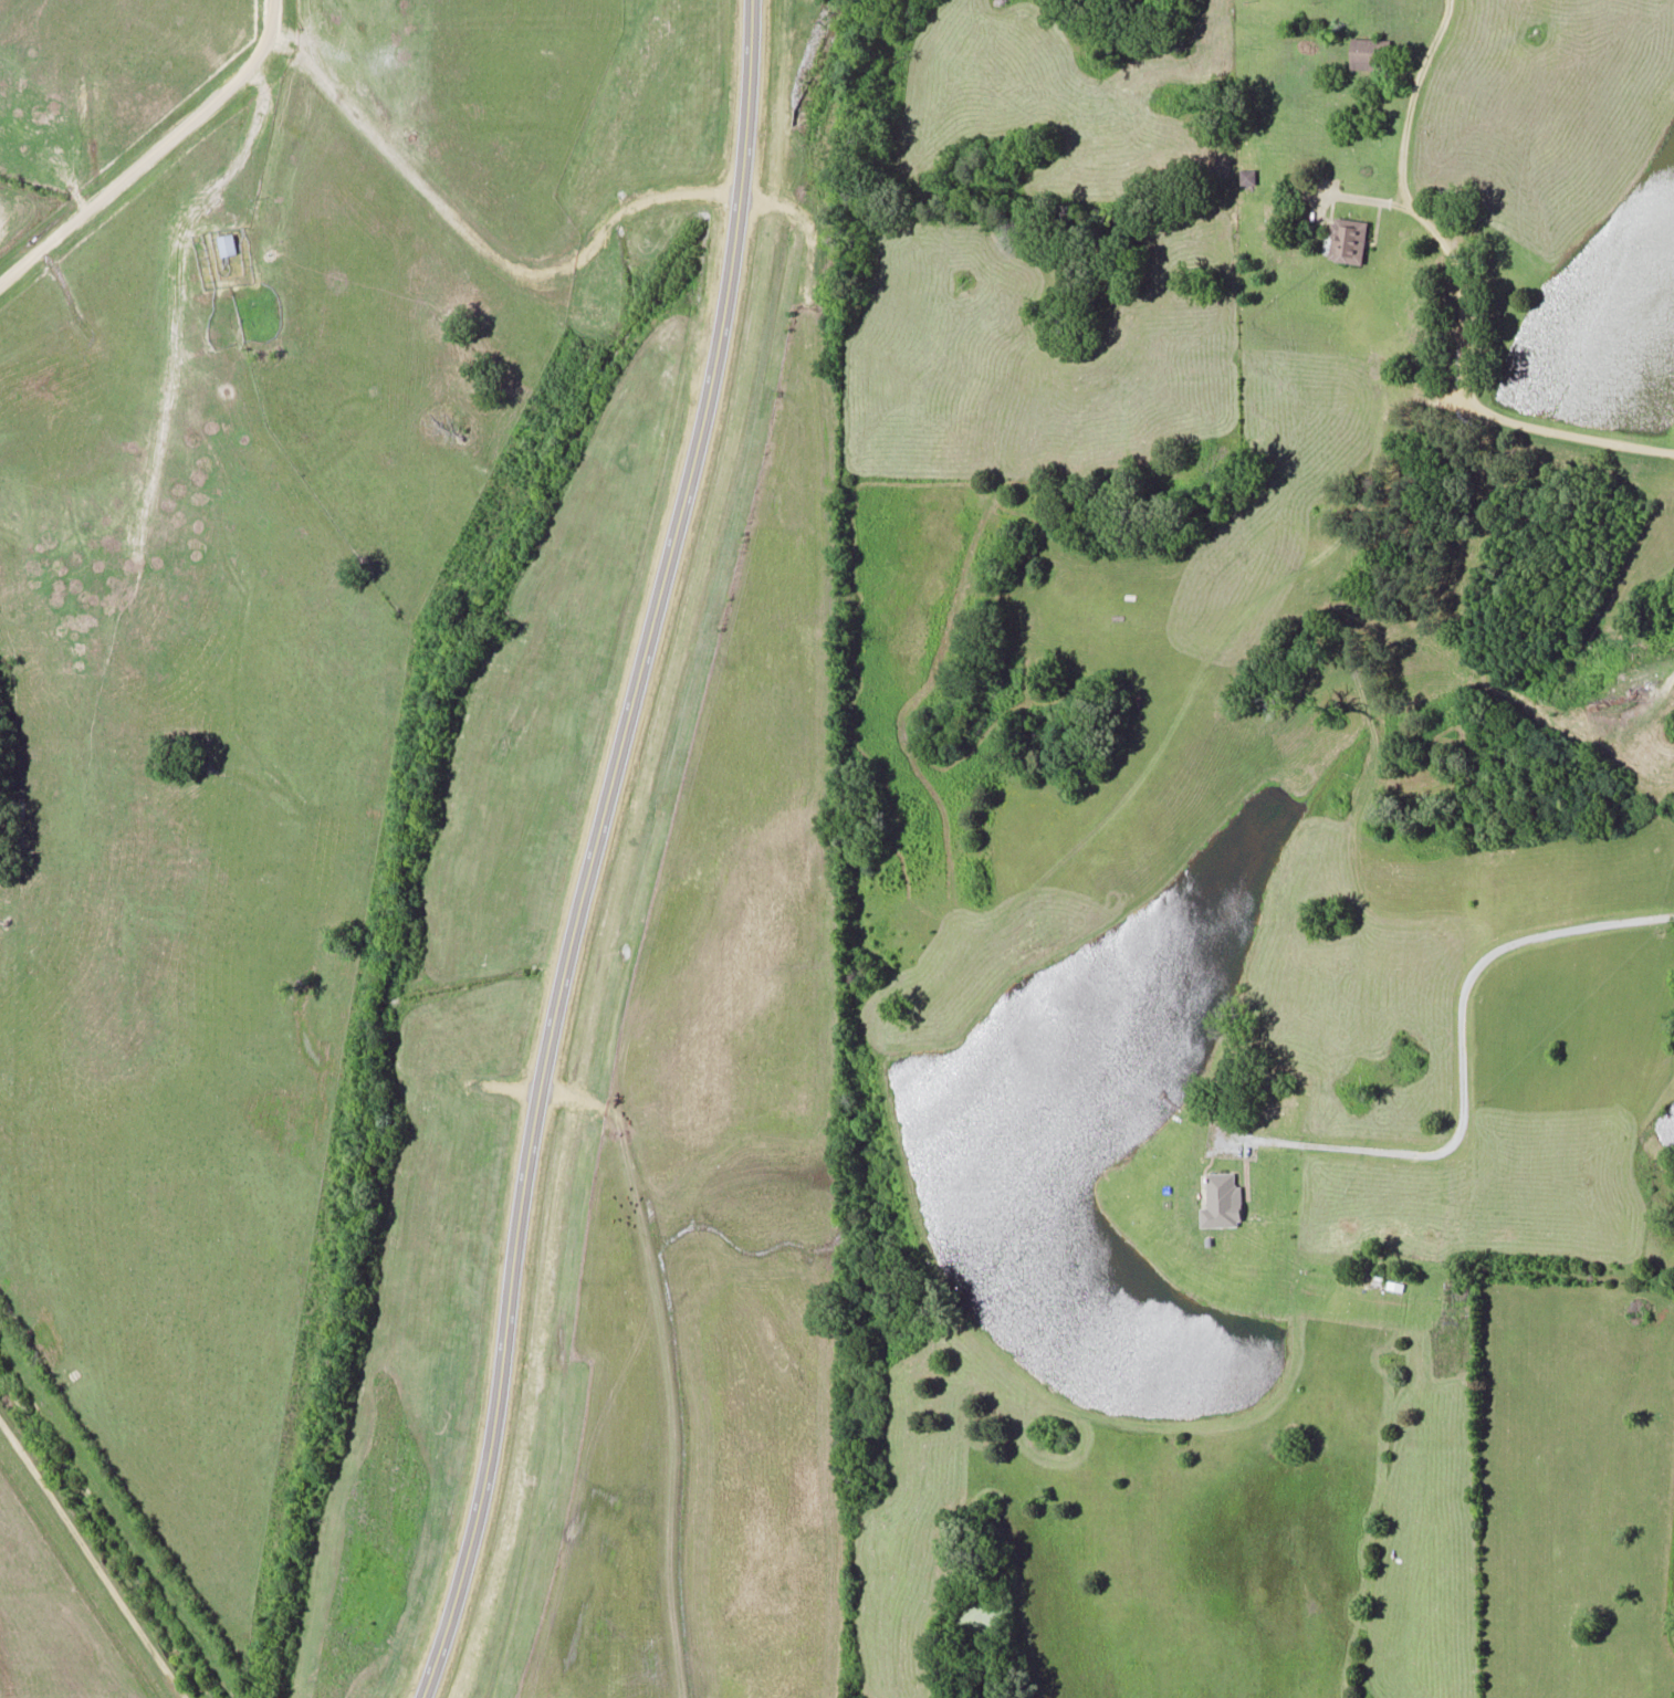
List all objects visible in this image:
building: (1368, 52)
road: (153, 146)
building: (1246, 175)
building: (1346, 239)
building: (224, 243)
road: (481, 243)
road: (1456, 297)
road: (593, 849)
road: (91, 1556)

